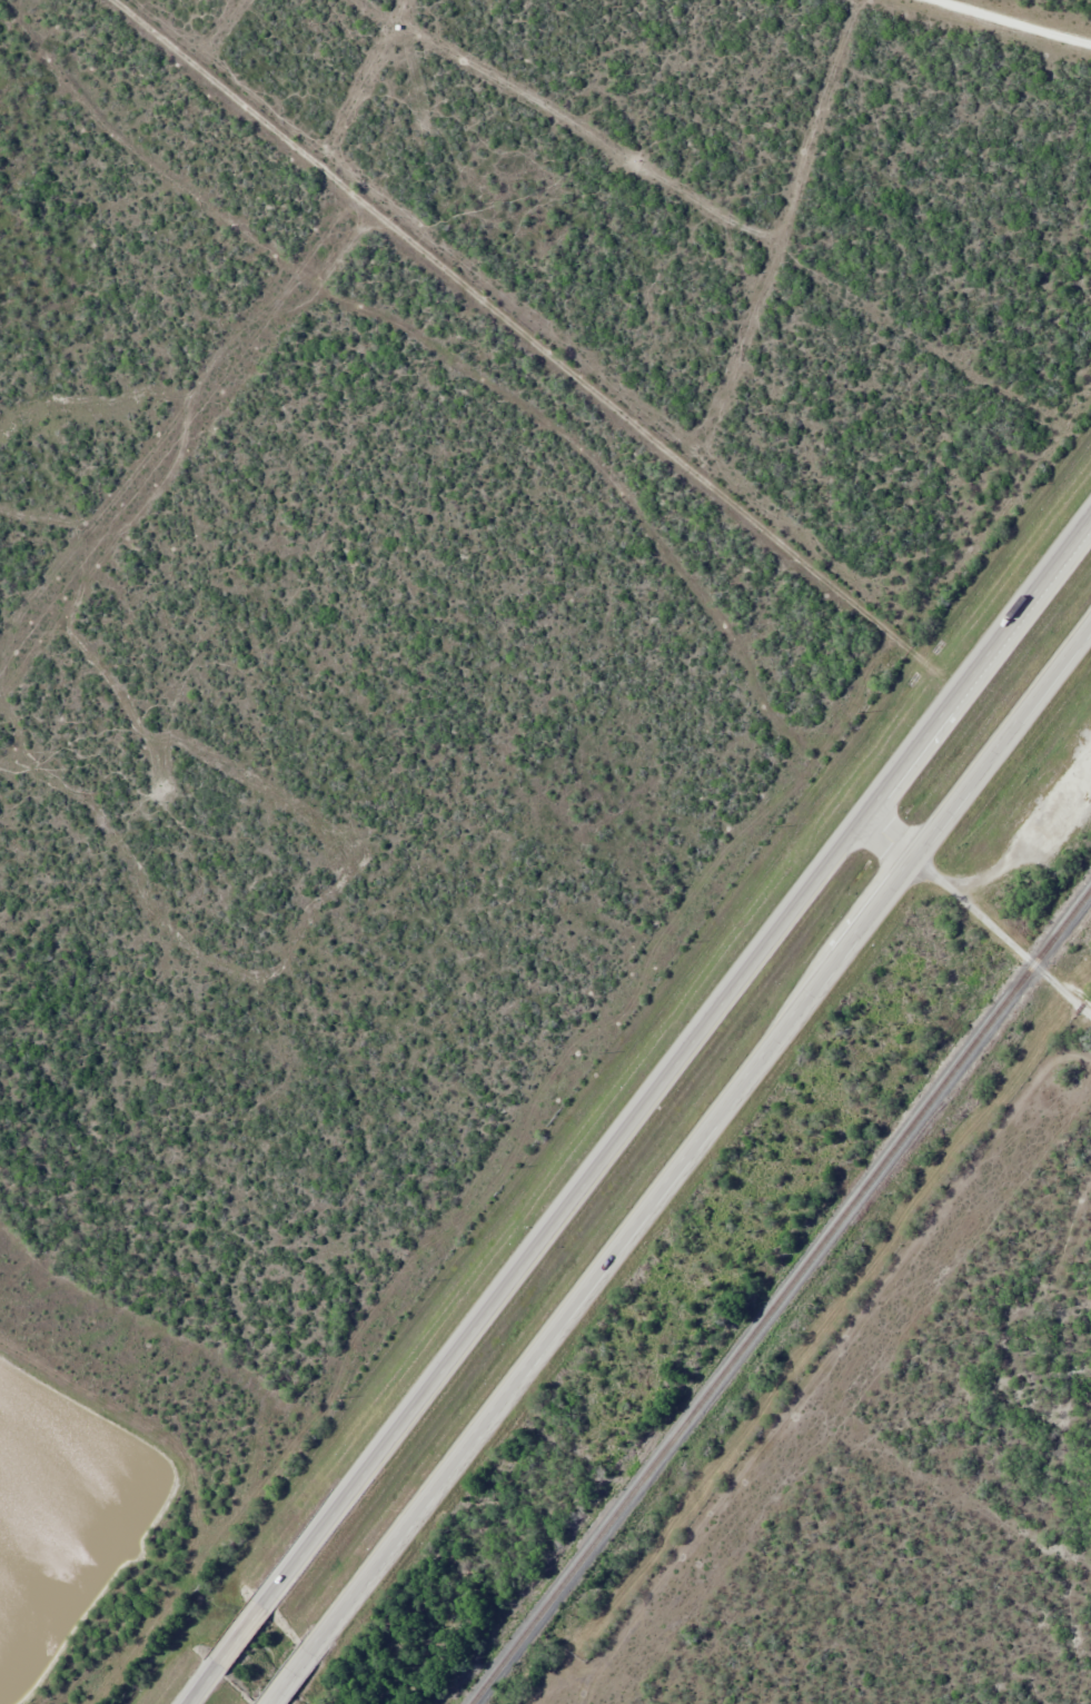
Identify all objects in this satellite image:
road: (1028, 16)
road: (978, 918)
road: (641, 1114)
road: (690, 1169)
railway: (781, 1297)

